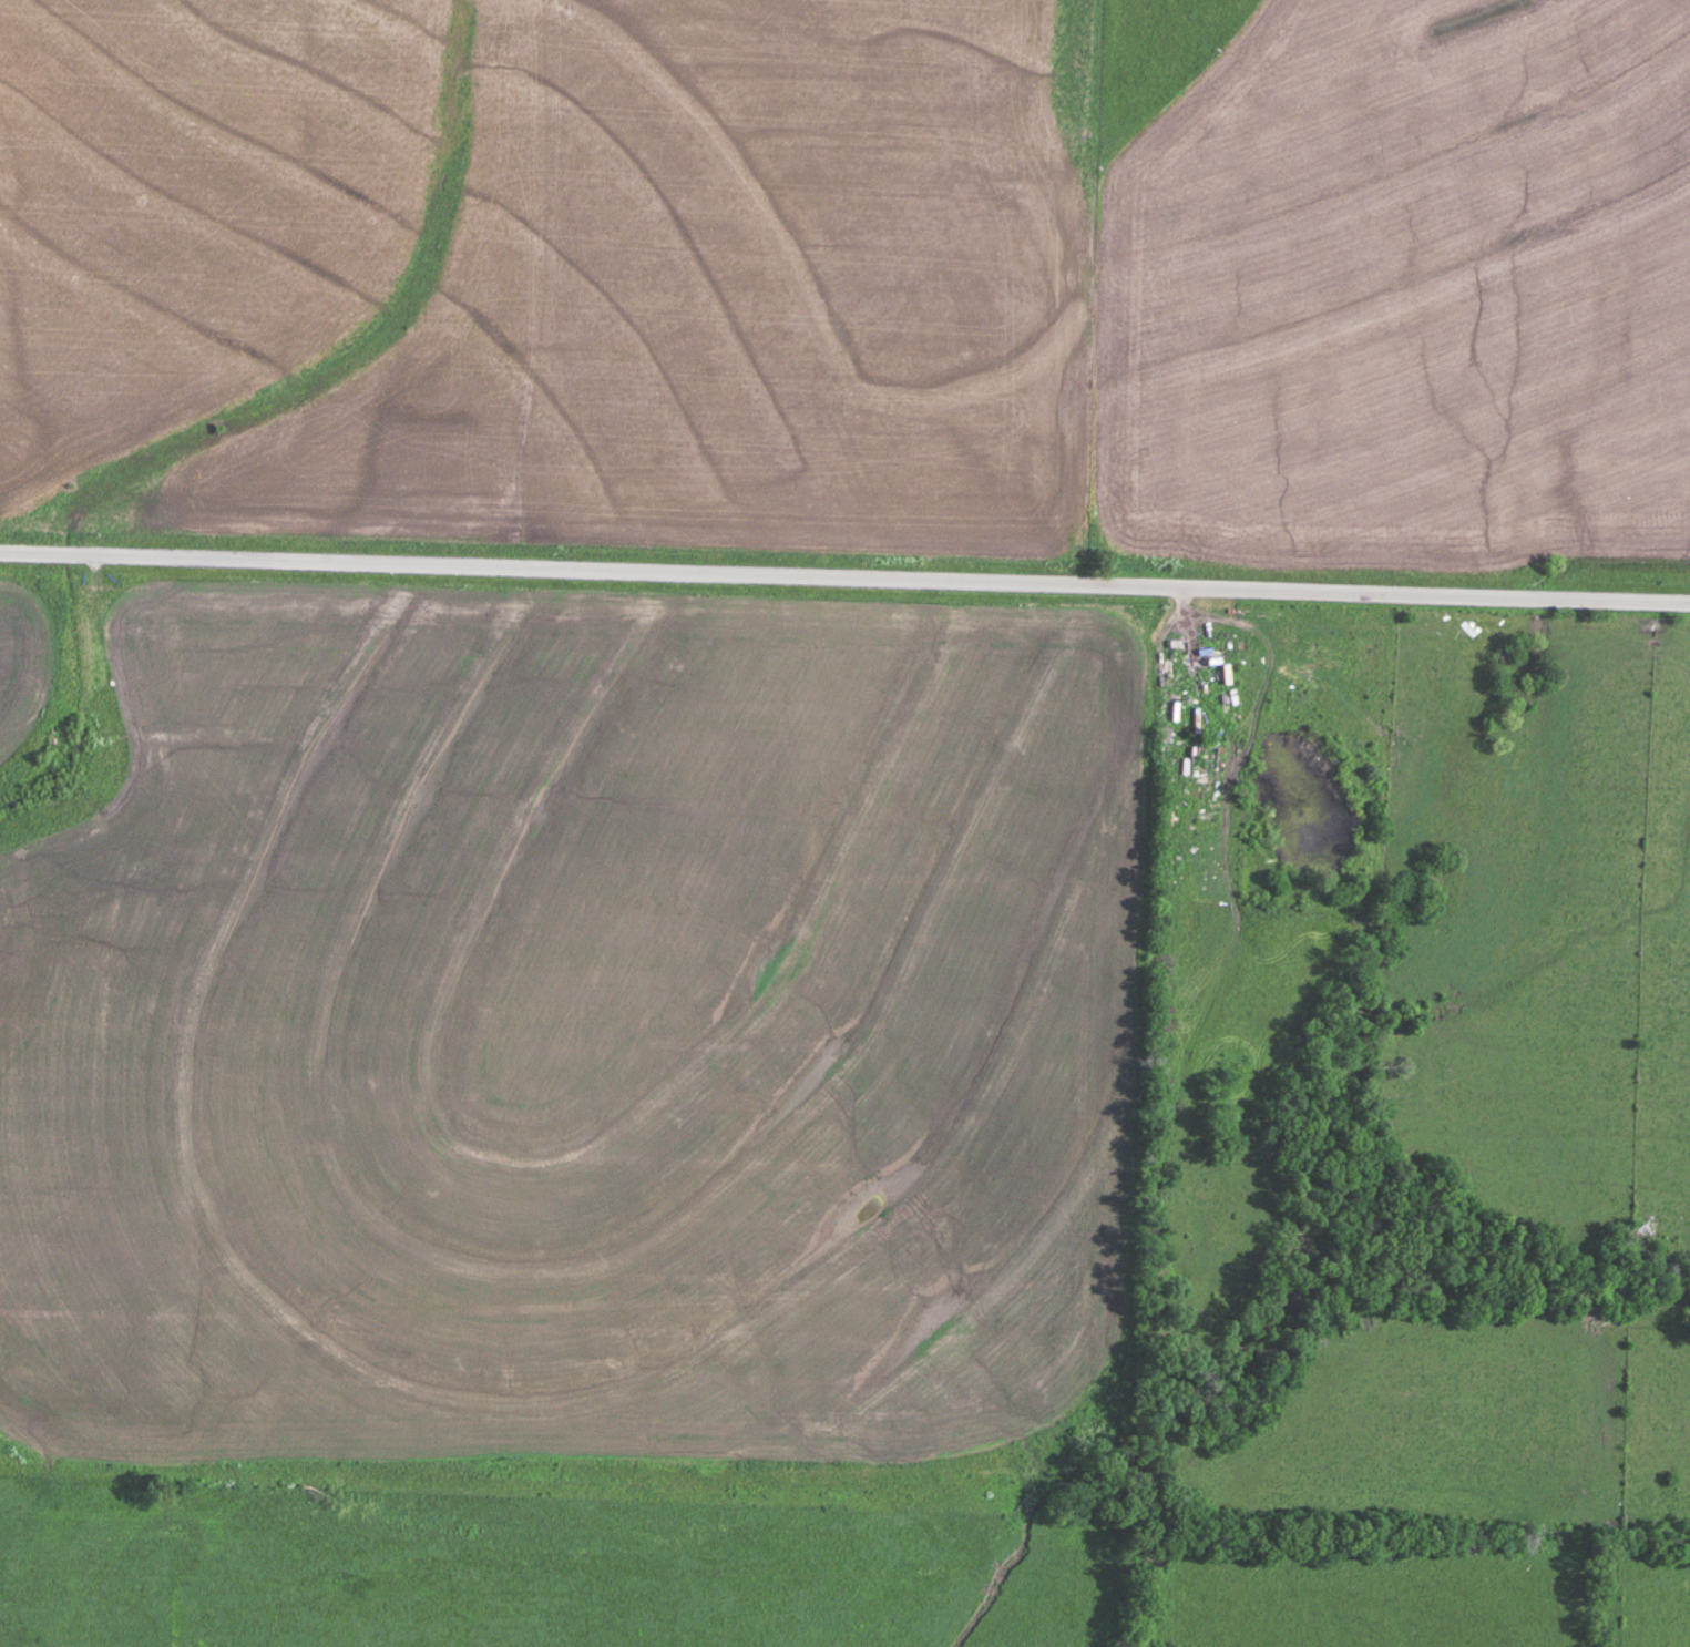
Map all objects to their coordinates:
road: (844, 587)

